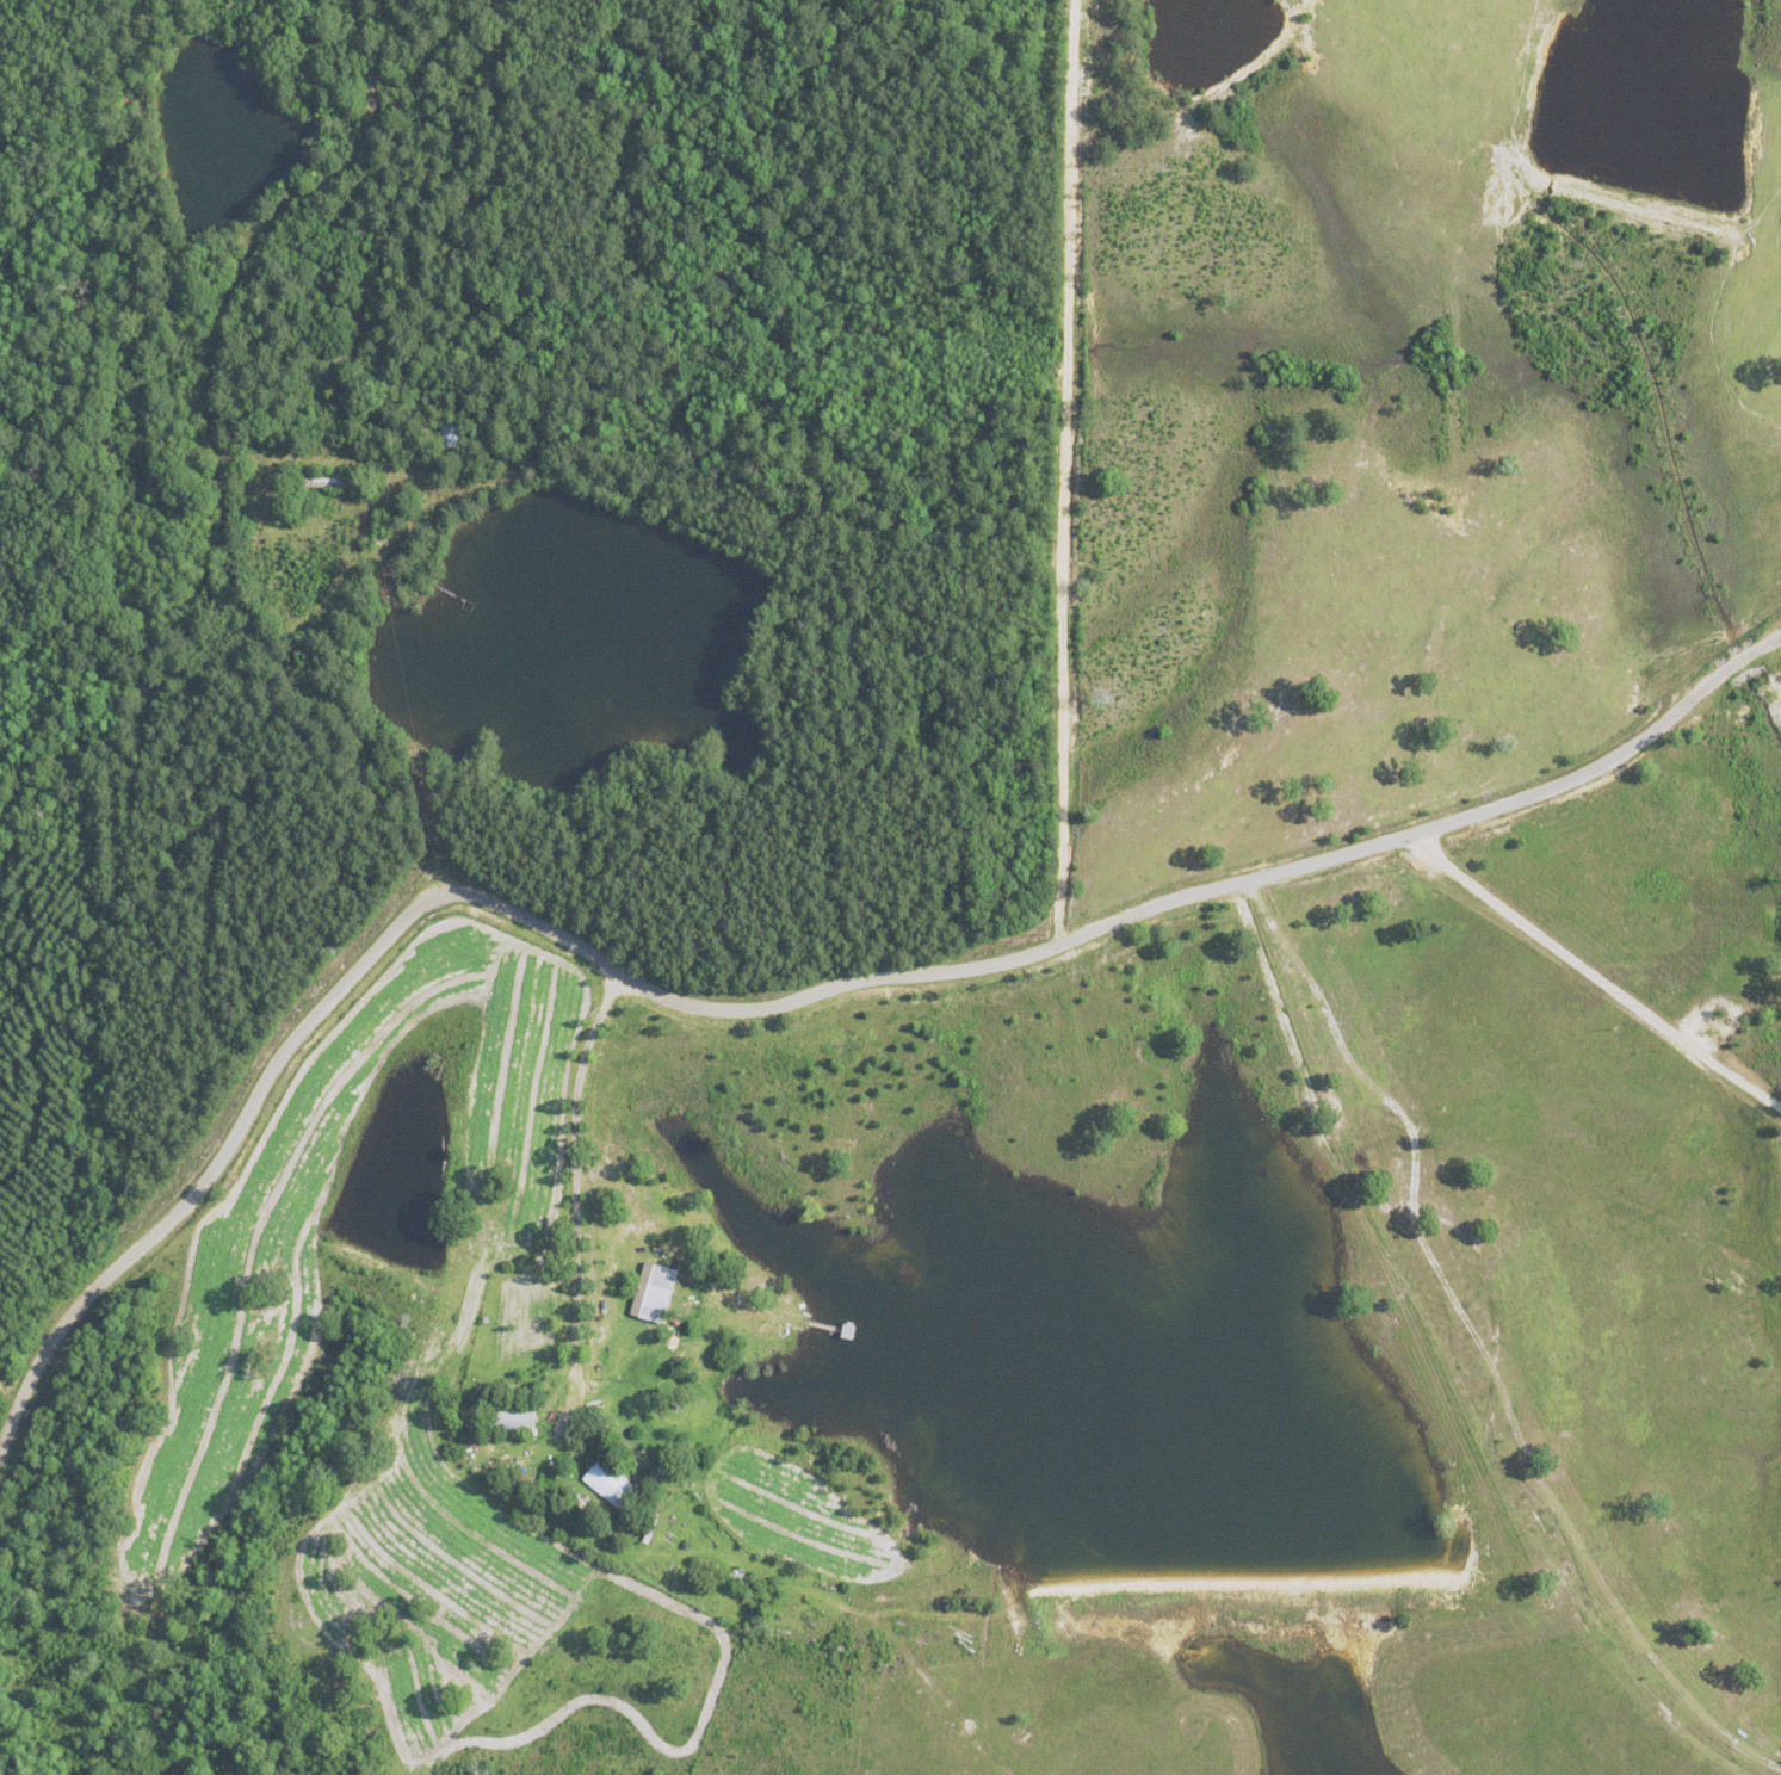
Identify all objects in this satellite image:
road: (777, 1003)
building: (643, 1289)
building: (508, 1418)

